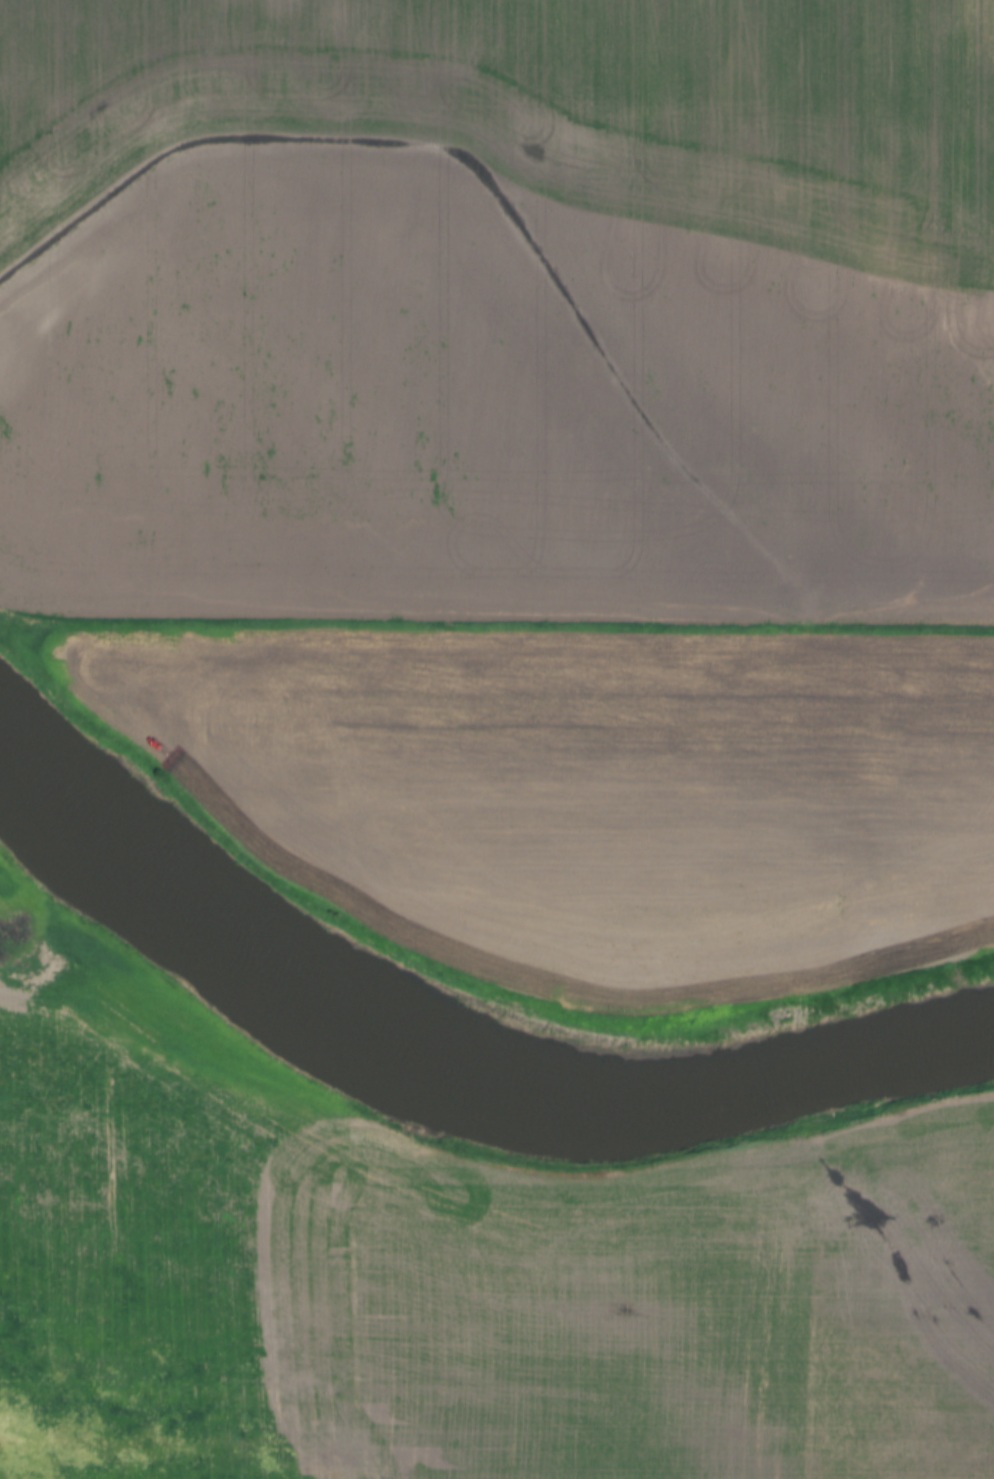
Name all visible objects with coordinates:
river: (451, 1076)

